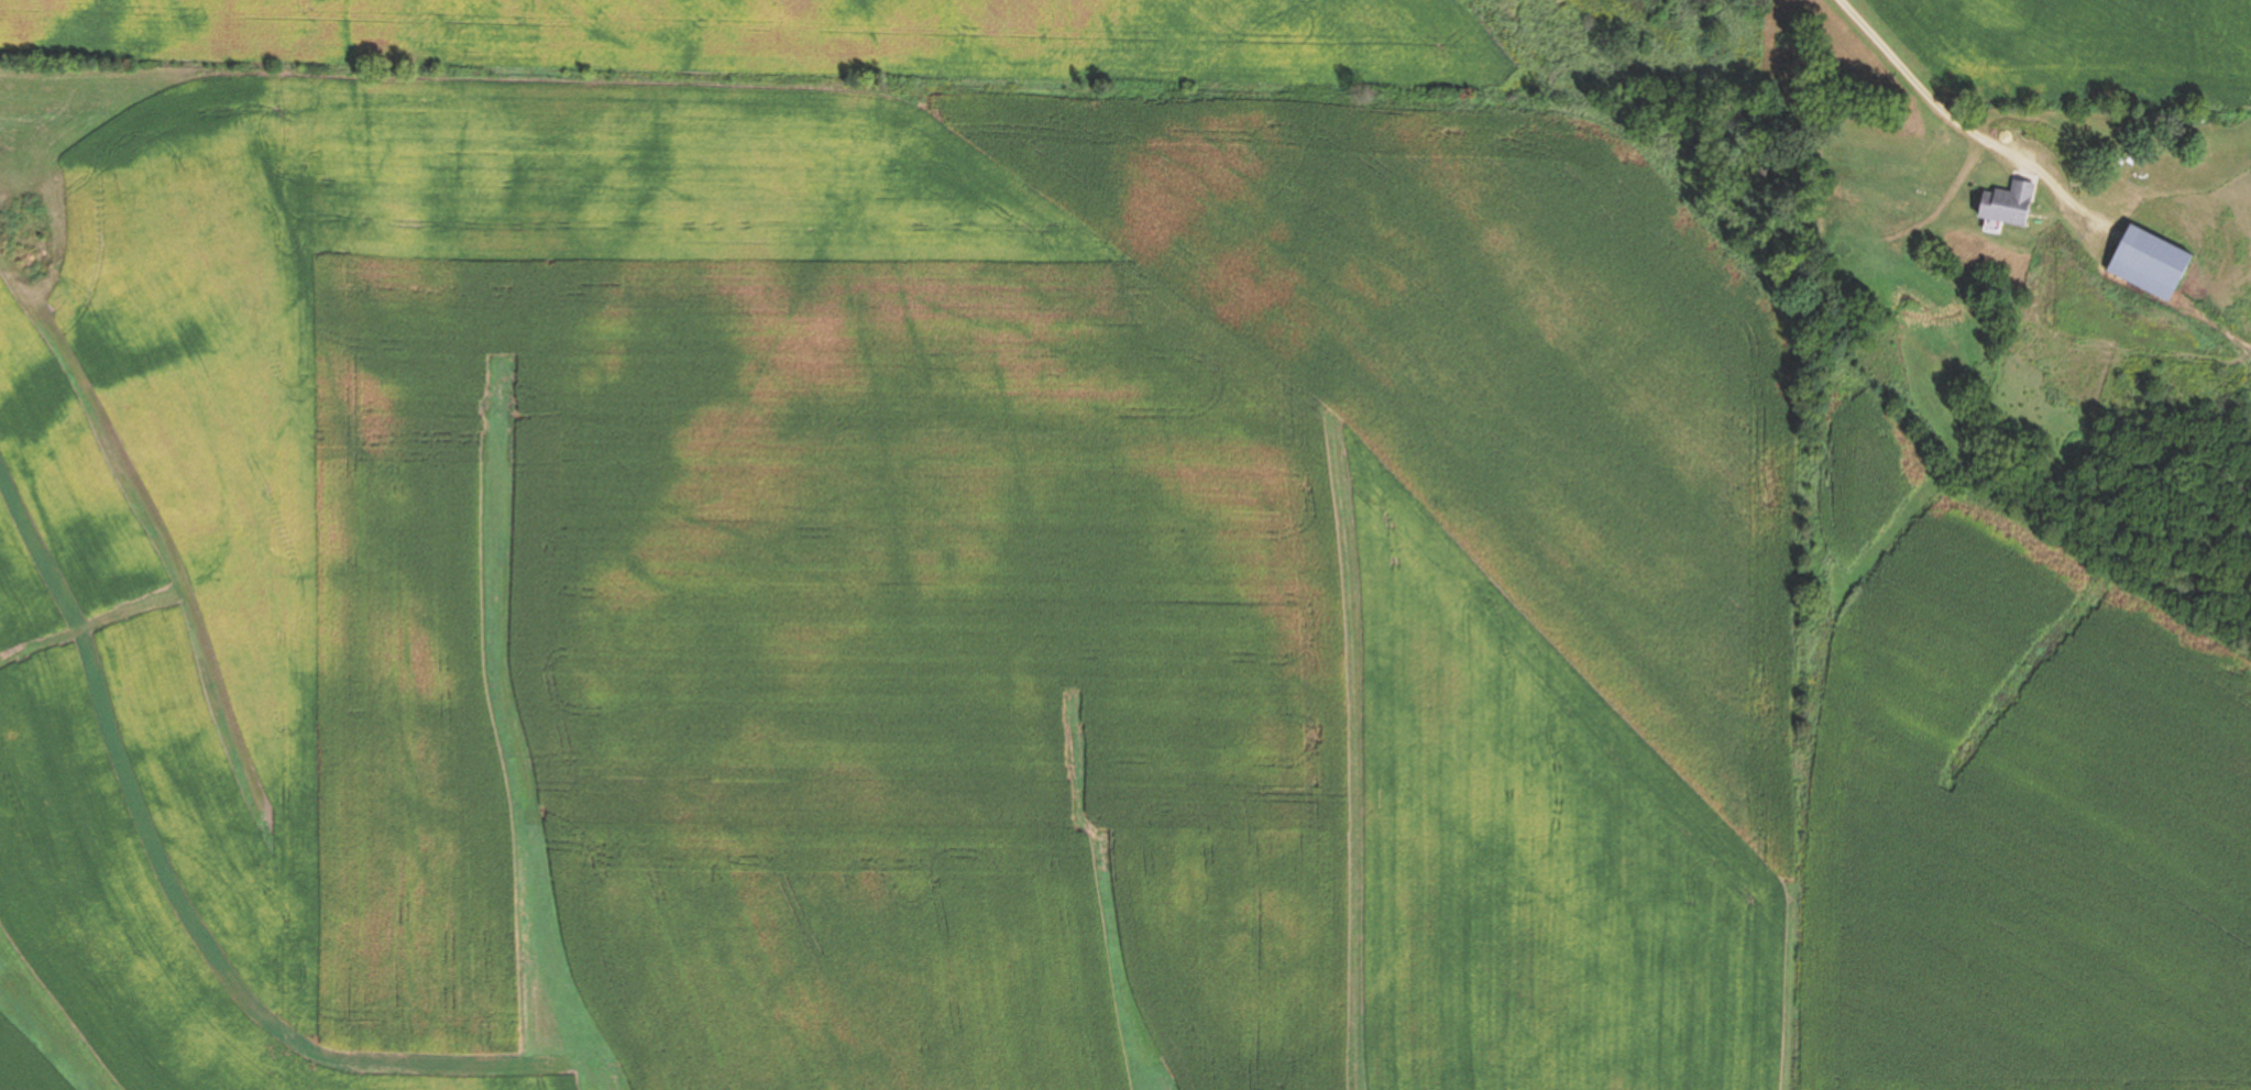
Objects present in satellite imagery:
road: (1967, 132)
building: (2006, 202)
building: (2146, 262)
road: (1357, 1081)

